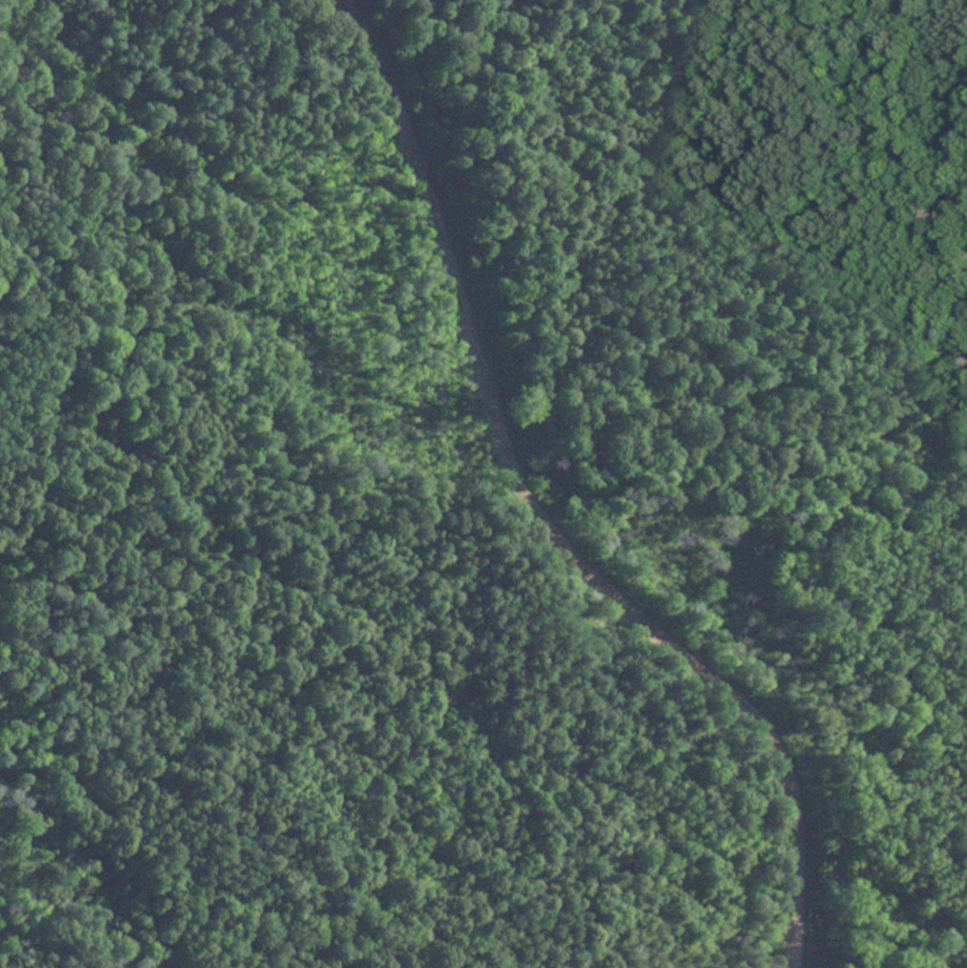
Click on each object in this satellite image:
park: (477, 477)
road: (532, 519)

